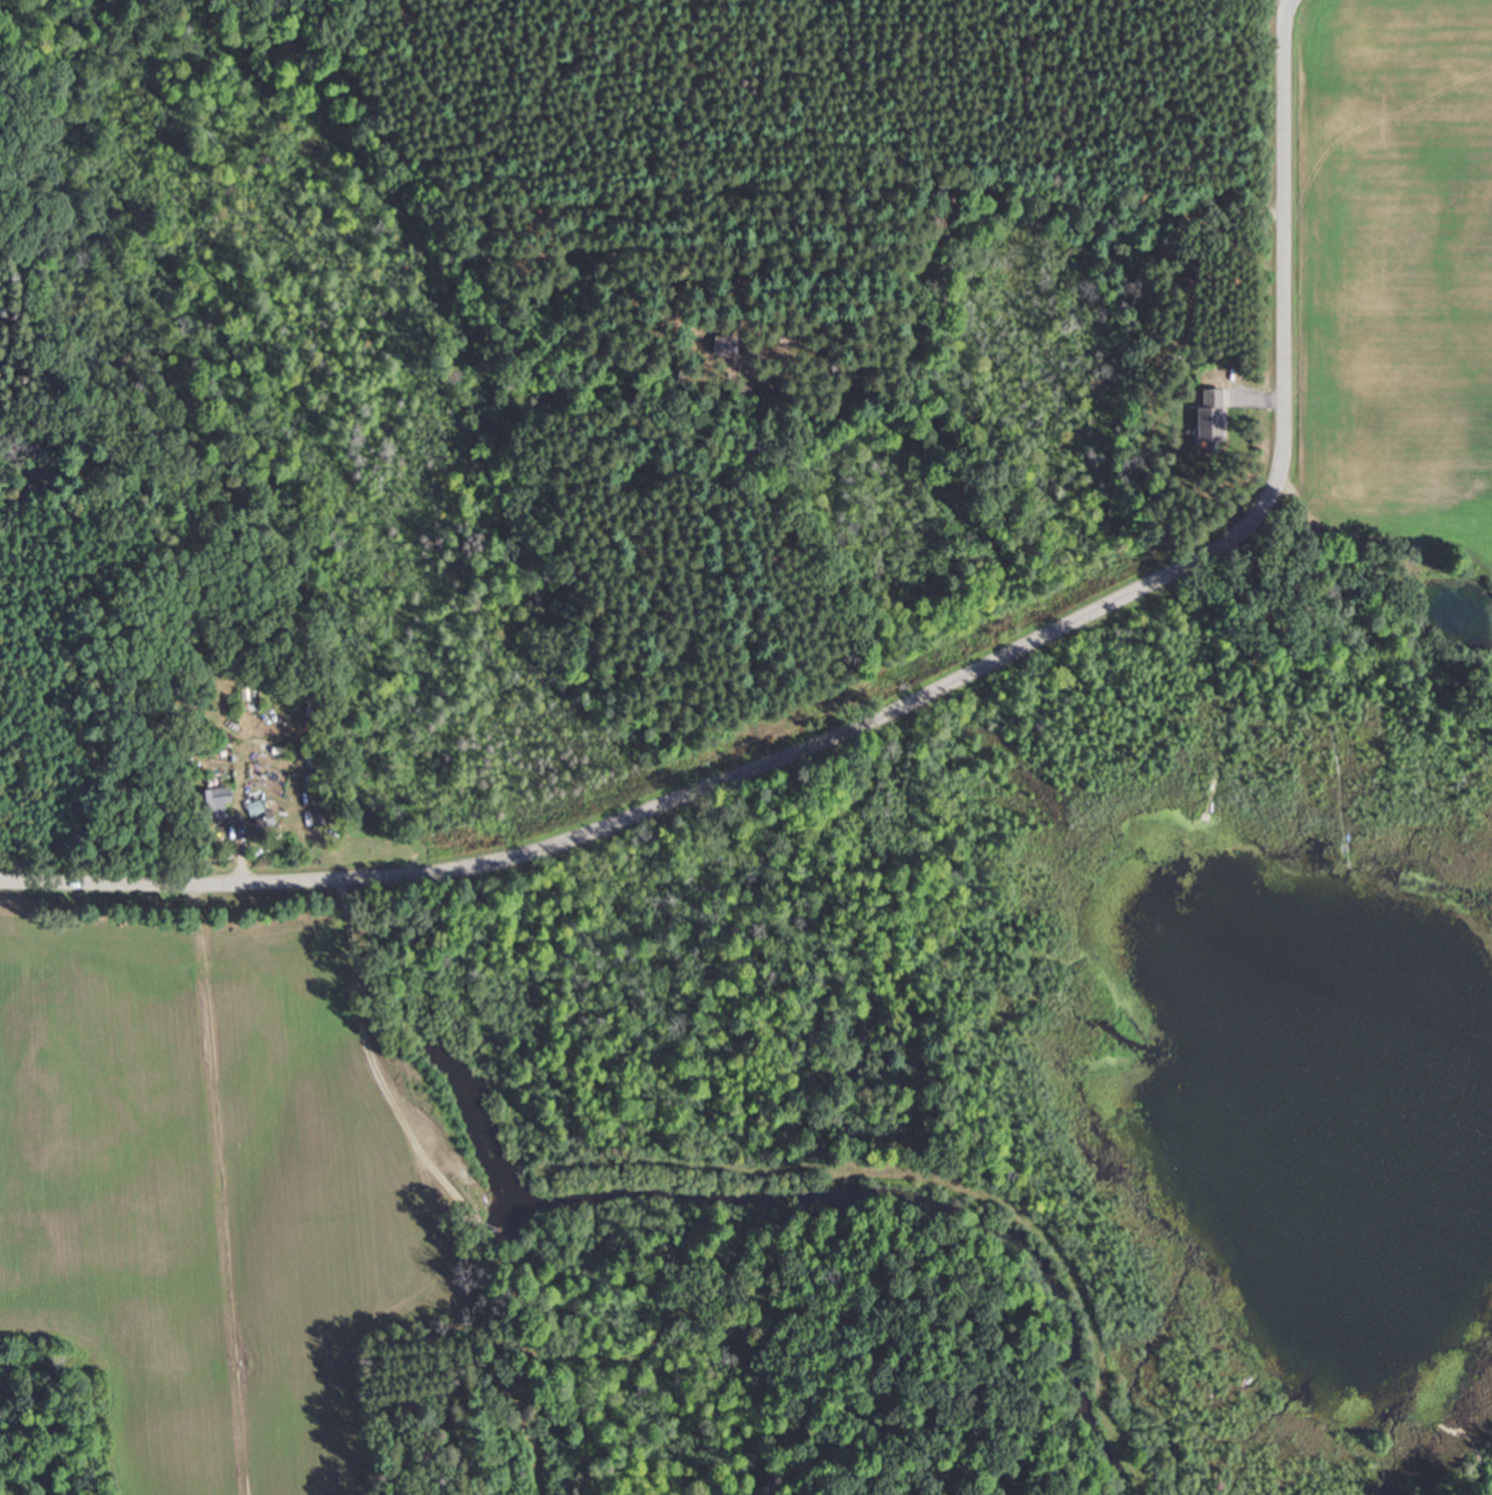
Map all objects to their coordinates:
road: (533, 198)
building: (717, 345)
building: (766, 391)
building: (1212, 416)
road: (897, 703)
building: (219, 804)

